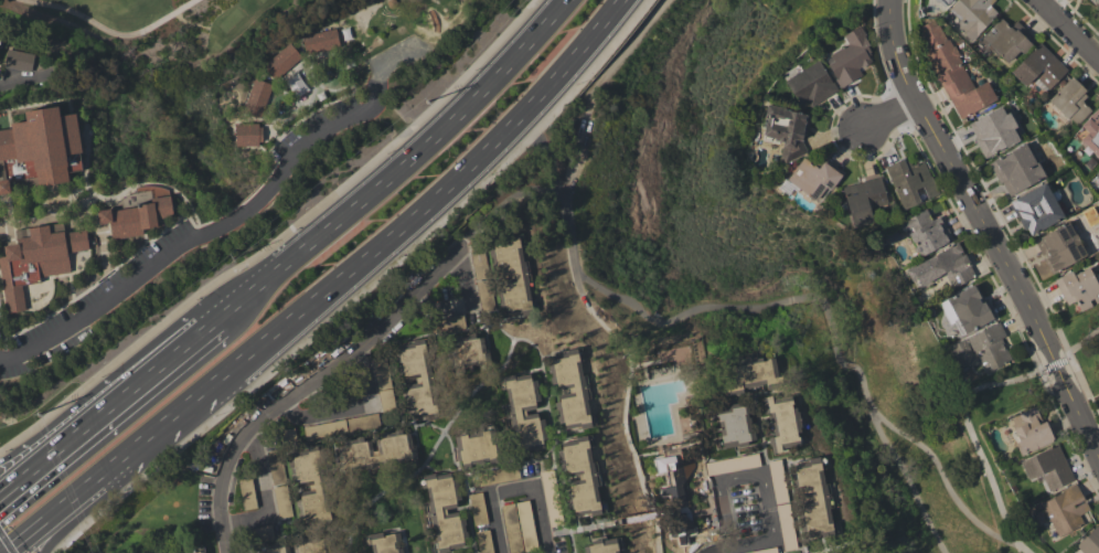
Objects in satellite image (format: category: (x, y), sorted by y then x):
building: (943, 1)
building: (1098, 1)
park: (477, 11)
building: (972, 15)
road: (1070, 28)
road: (111, 30)
building: (0, 41)
building: (1004, 41)
building: (322, 42)
building: (0, 46)
road: (904, 49)
park: (166, 50)
building: (849, 57)
building: (21, 61)
building: (284, 62)
building: (1039, 67)
building: (951, 71)
building: (810, 84)
building: (296, 85)
road: (15, 89)
road: (594, 91)
building: (258, 98)
building: (1069, 100)
road: (886, 114)
building: (785, 129)
building: (993, 131)
building: (1089, 132)
building: (248, 135)
building: (41, 151)
road: (401, 160)
building: (1016, 169)
building: (1097, 173)
building: (812, 178)
building: (909, 181)
building: (863, 200)
building: (1035, 209)
building: (140, 214)
road: (402, 231)
building: (926, 232)
road: (203, 235)
road: (279, 238)
building: (1059, 247)
building: (38, 260)
building: (941, 267)
road: (1005, 268)
building: (511, 272)
building: (481, 279)
building: (1079, 288)
road: (364, 290)
road: (762, 304)
building: (969, 308)
road: (1080, 341)
building: (462, 343)
building: (979, 352)
road: (1054, 364)
building: (749, 373)
park: (1036, 375)
building: (417, 377)
road: (312, 384)
road: (113, 385)
building: (384, 385)
building: (570, 390)
road: (125, 392)
building: (523, 412)
building: (782, 421)
park: (898, 423)
building: (733, 425)
building: (341, 426)
building: (1029, 429)
road: (974, 436)
building: (476, 445)
building: (375, 451)
building: (1047, 467)
building: (494, 475)
road: (741, 476)
road: (98, 478)
building: (673, 478)
road: (943, 479)
building: (311, 482)
building: (278, 483)
road: (12, 486)
road: (512, 488)
road: (103, 493)
building: (551, 497)
building: (812, 498)
building: (477, 508)
building: (1065, 509)
building: (445, 511)
building: (519, 527)
building: (682, 527)
road: (23, 539)
building: (483, 541)
building: (384, 542)
building: (1089, 542)
road: (7, 543)
road: (745, 544)
building: (602, 545)
building: (193, 551)
building: (202, 552)

